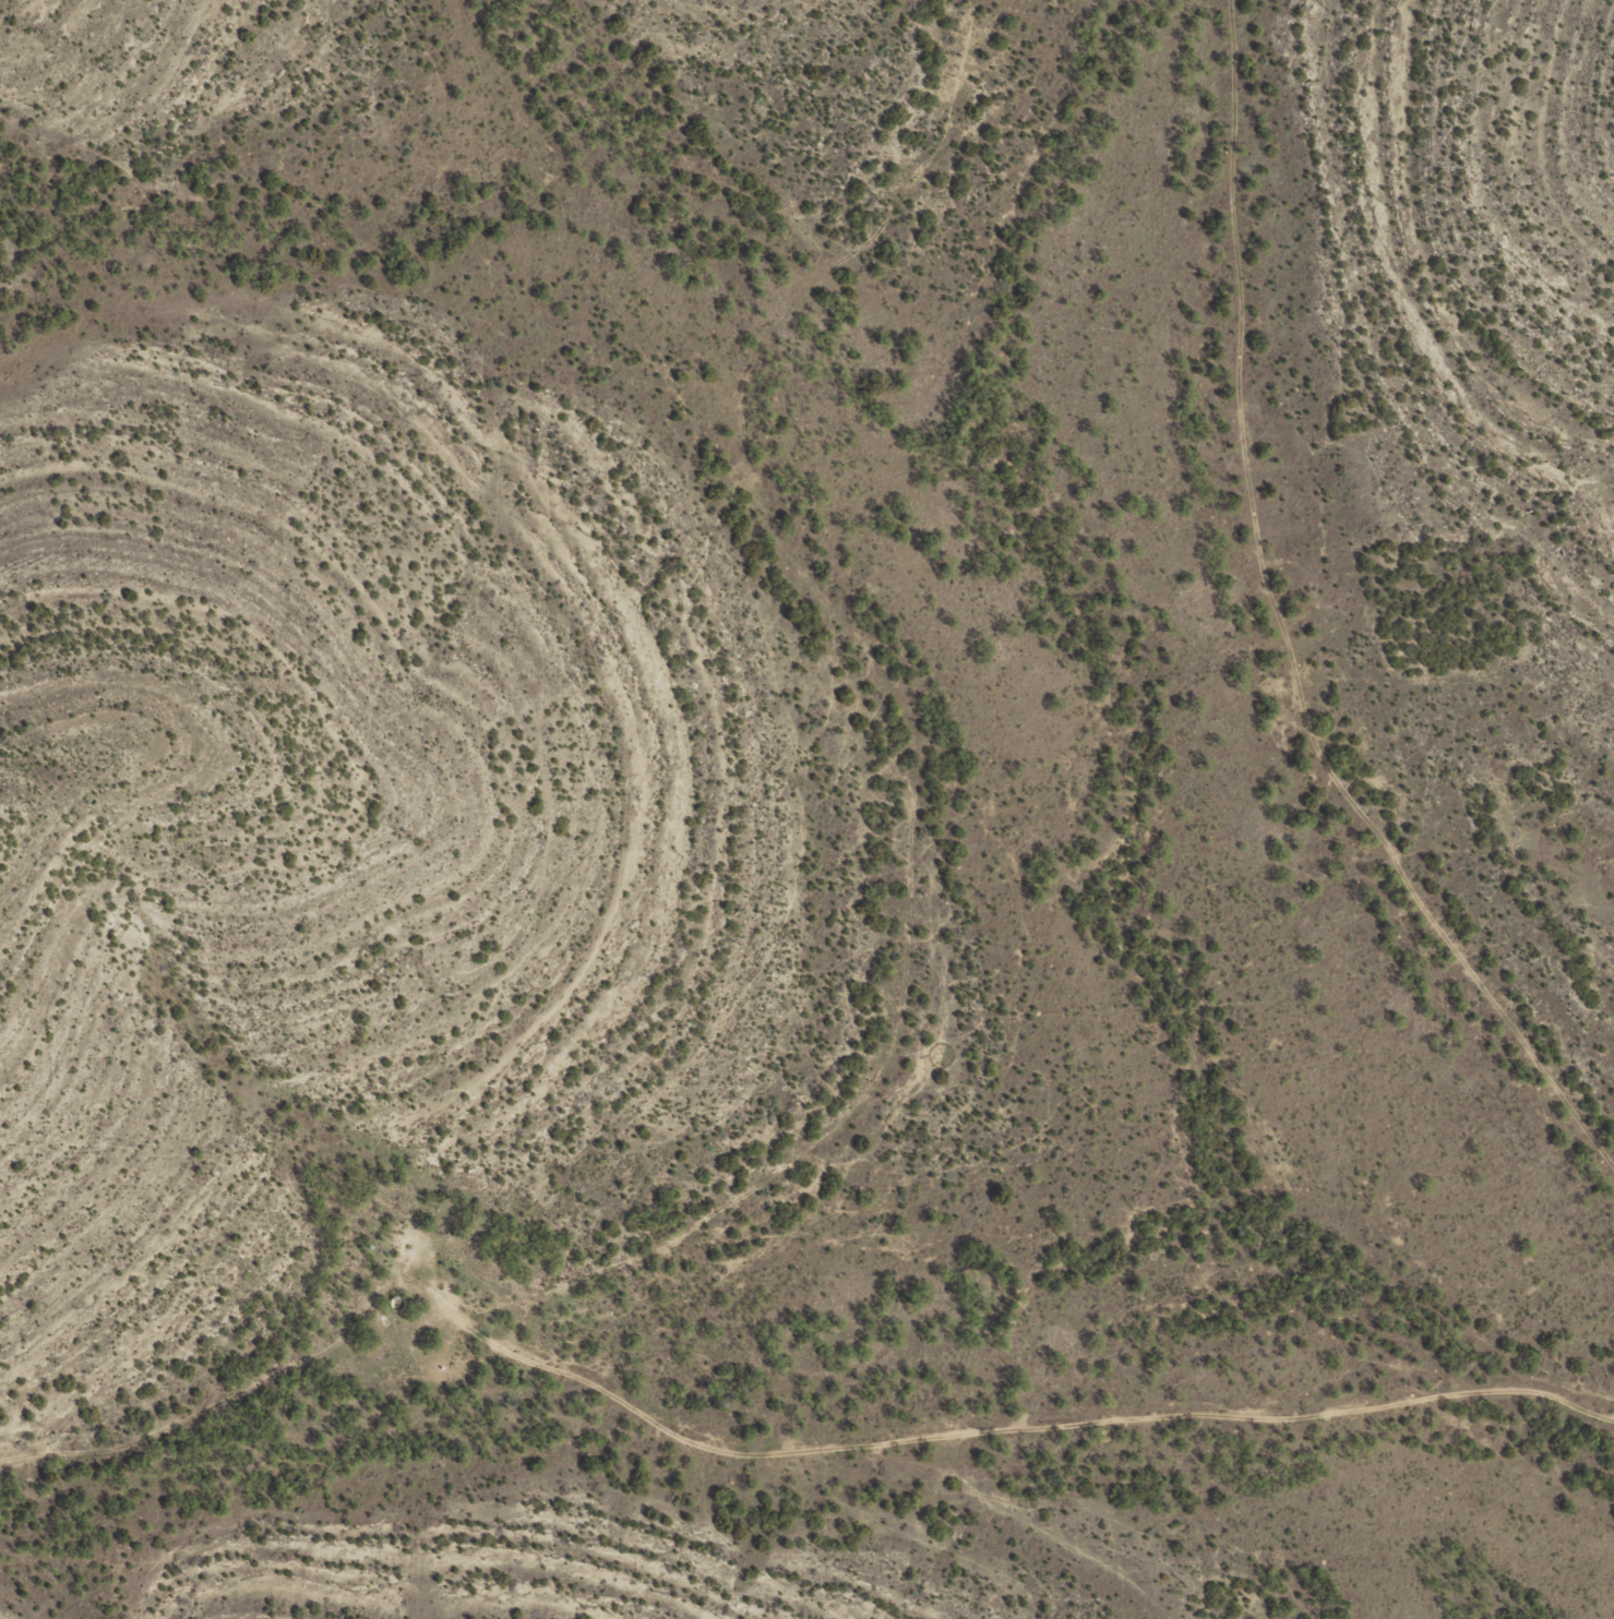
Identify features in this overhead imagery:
road: (1025, 1415)

